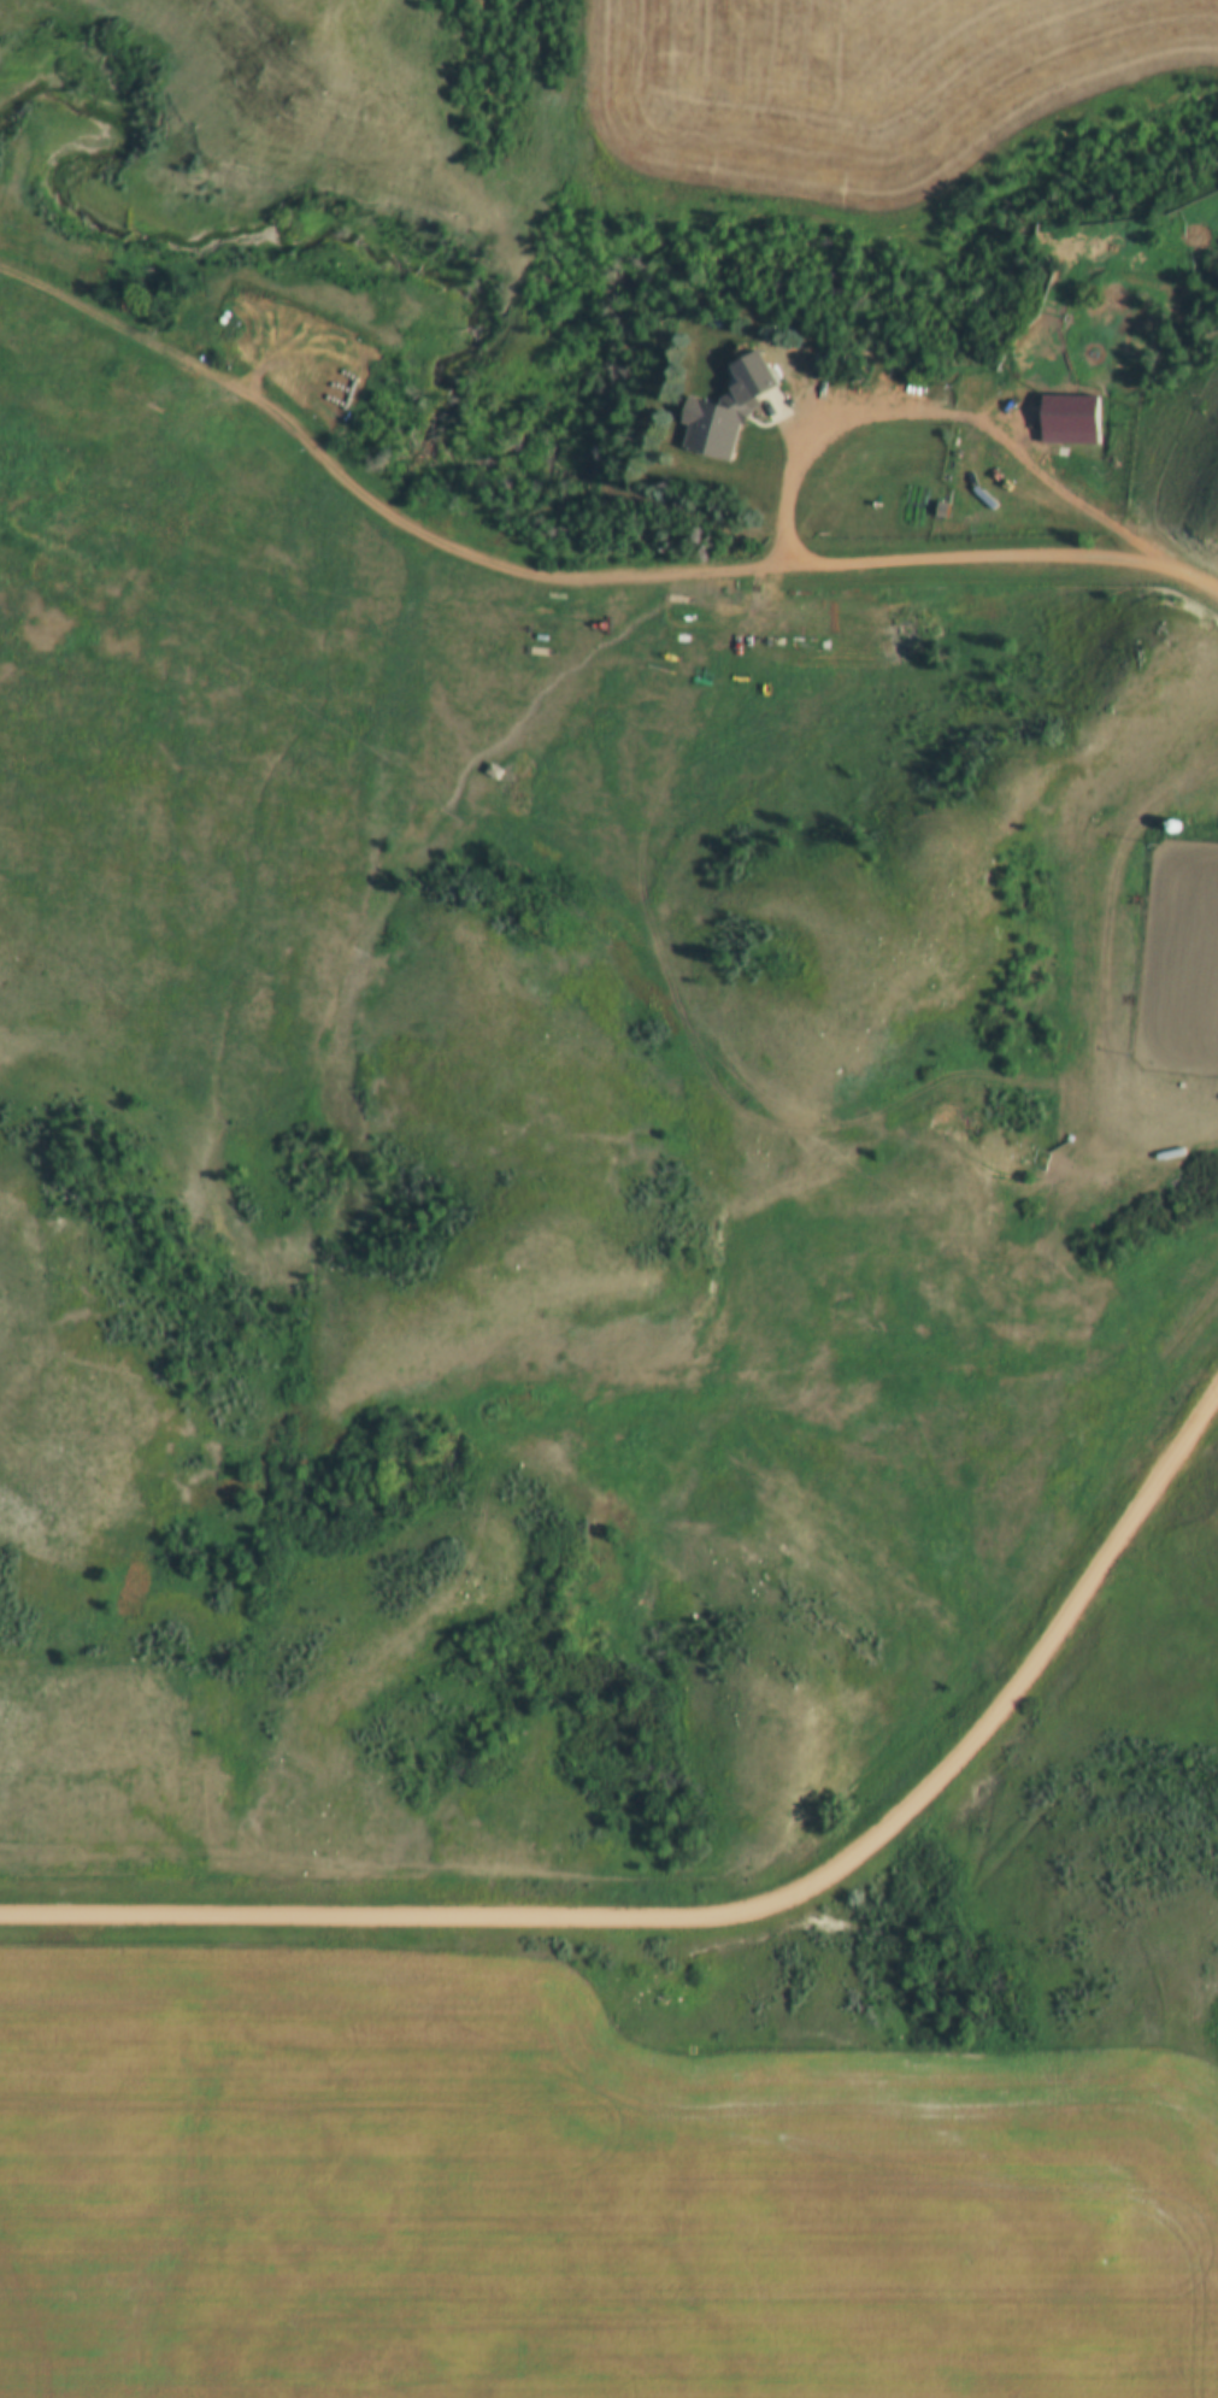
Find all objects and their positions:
building: (1073, 268)
road: (865, 413)
building: (714, 425)
road: (382, 498)
road: (900, 563)
road: (728, 1918)

